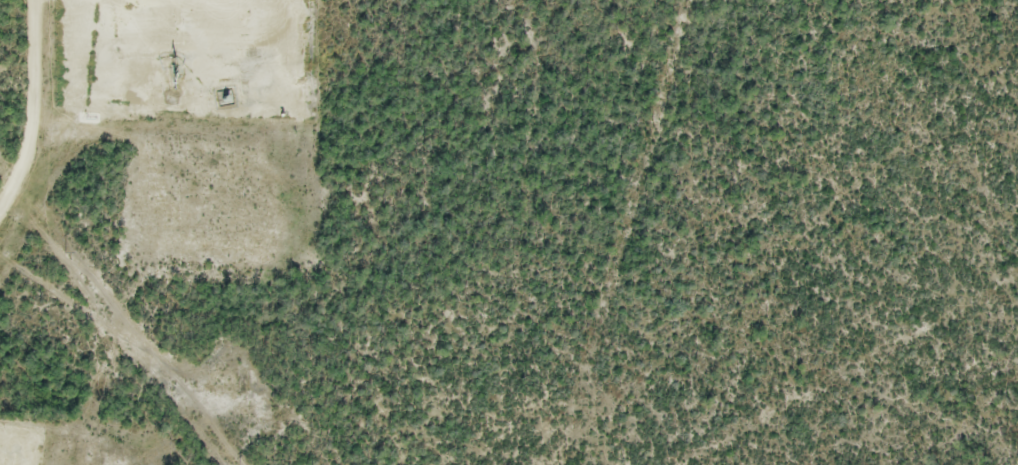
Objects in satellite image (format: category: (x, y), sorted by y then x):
road: (34, 107)
power tower: (65, 252)

